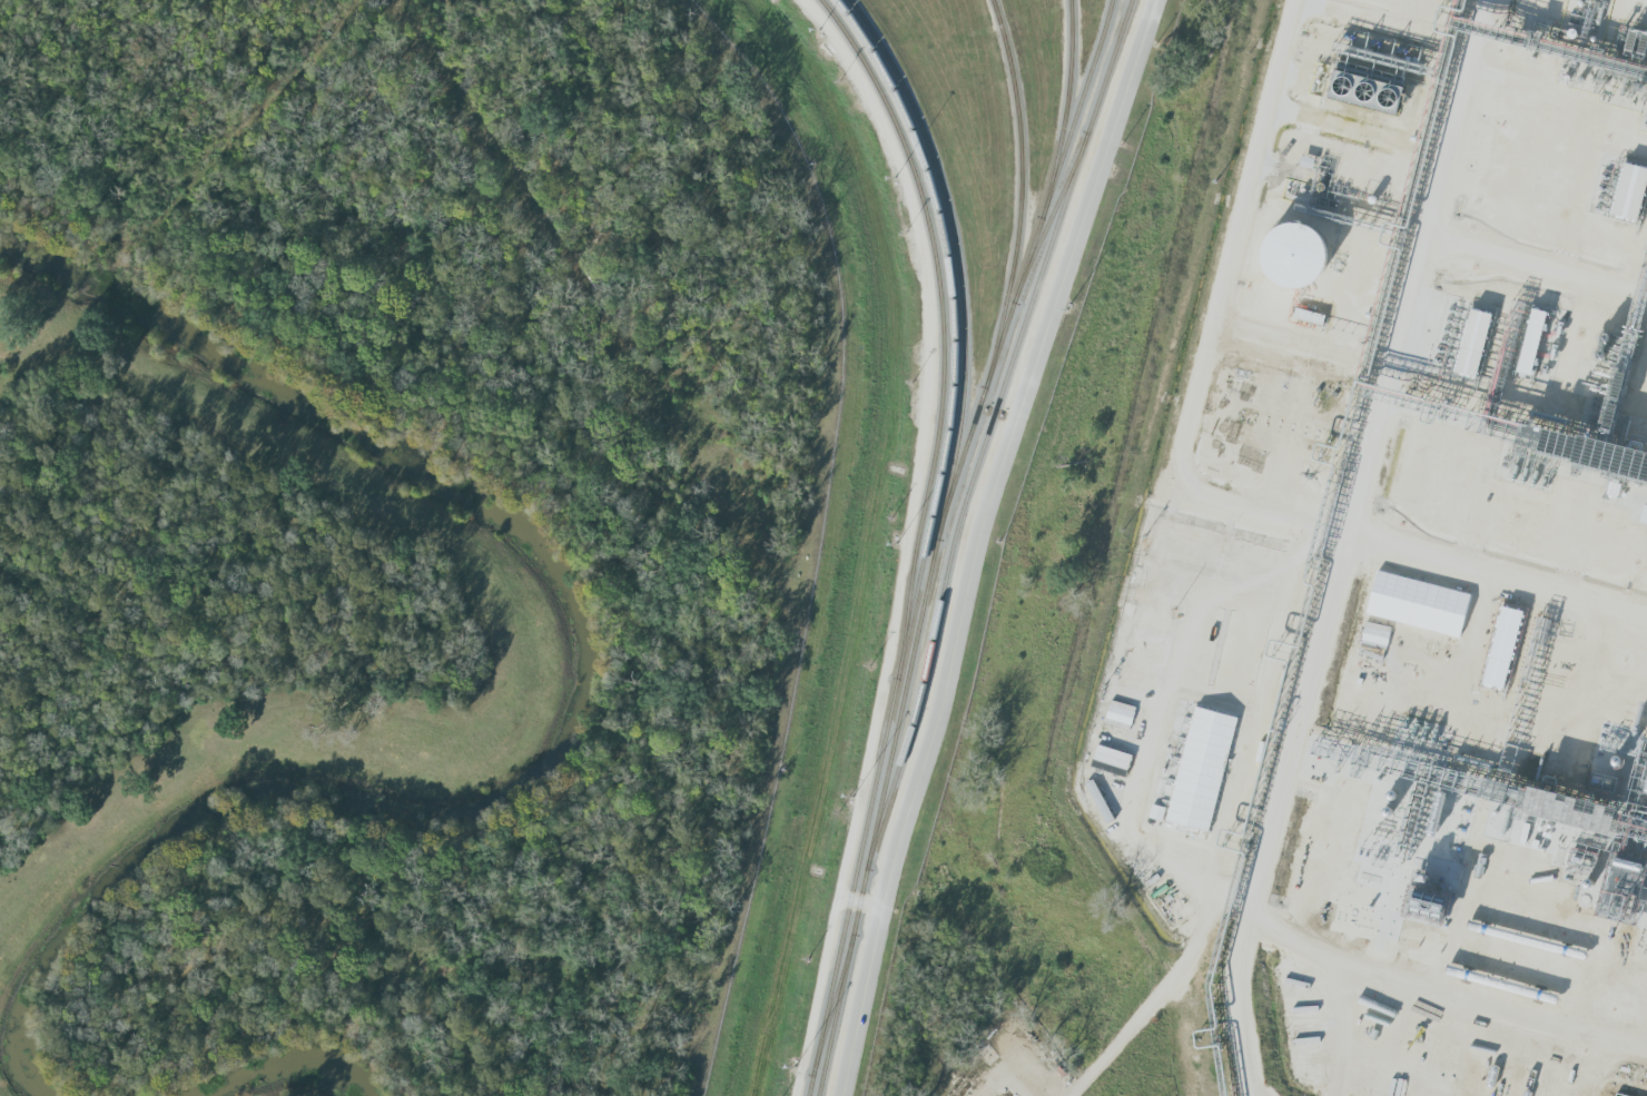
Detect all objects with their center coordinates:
railway: (1066, 100)
building: (1516, 159)
railway: (1022, 184)
building: (1623, 192)
railway: (1053, 210)
building: (1284, 258)
railway: (1026, 265)
railway: (941, 318)
building: (1525, 343)
building: (1466, 345)
railway: (988, 429)
building: (1601, 443)
railway: (926, 540)
railway: (936, 541)
road: (973, 542)
building: (1214, 552)
road: (1340, 581)
building: (1148, 618)
river: (571, 711)
river: (267, 1065)

